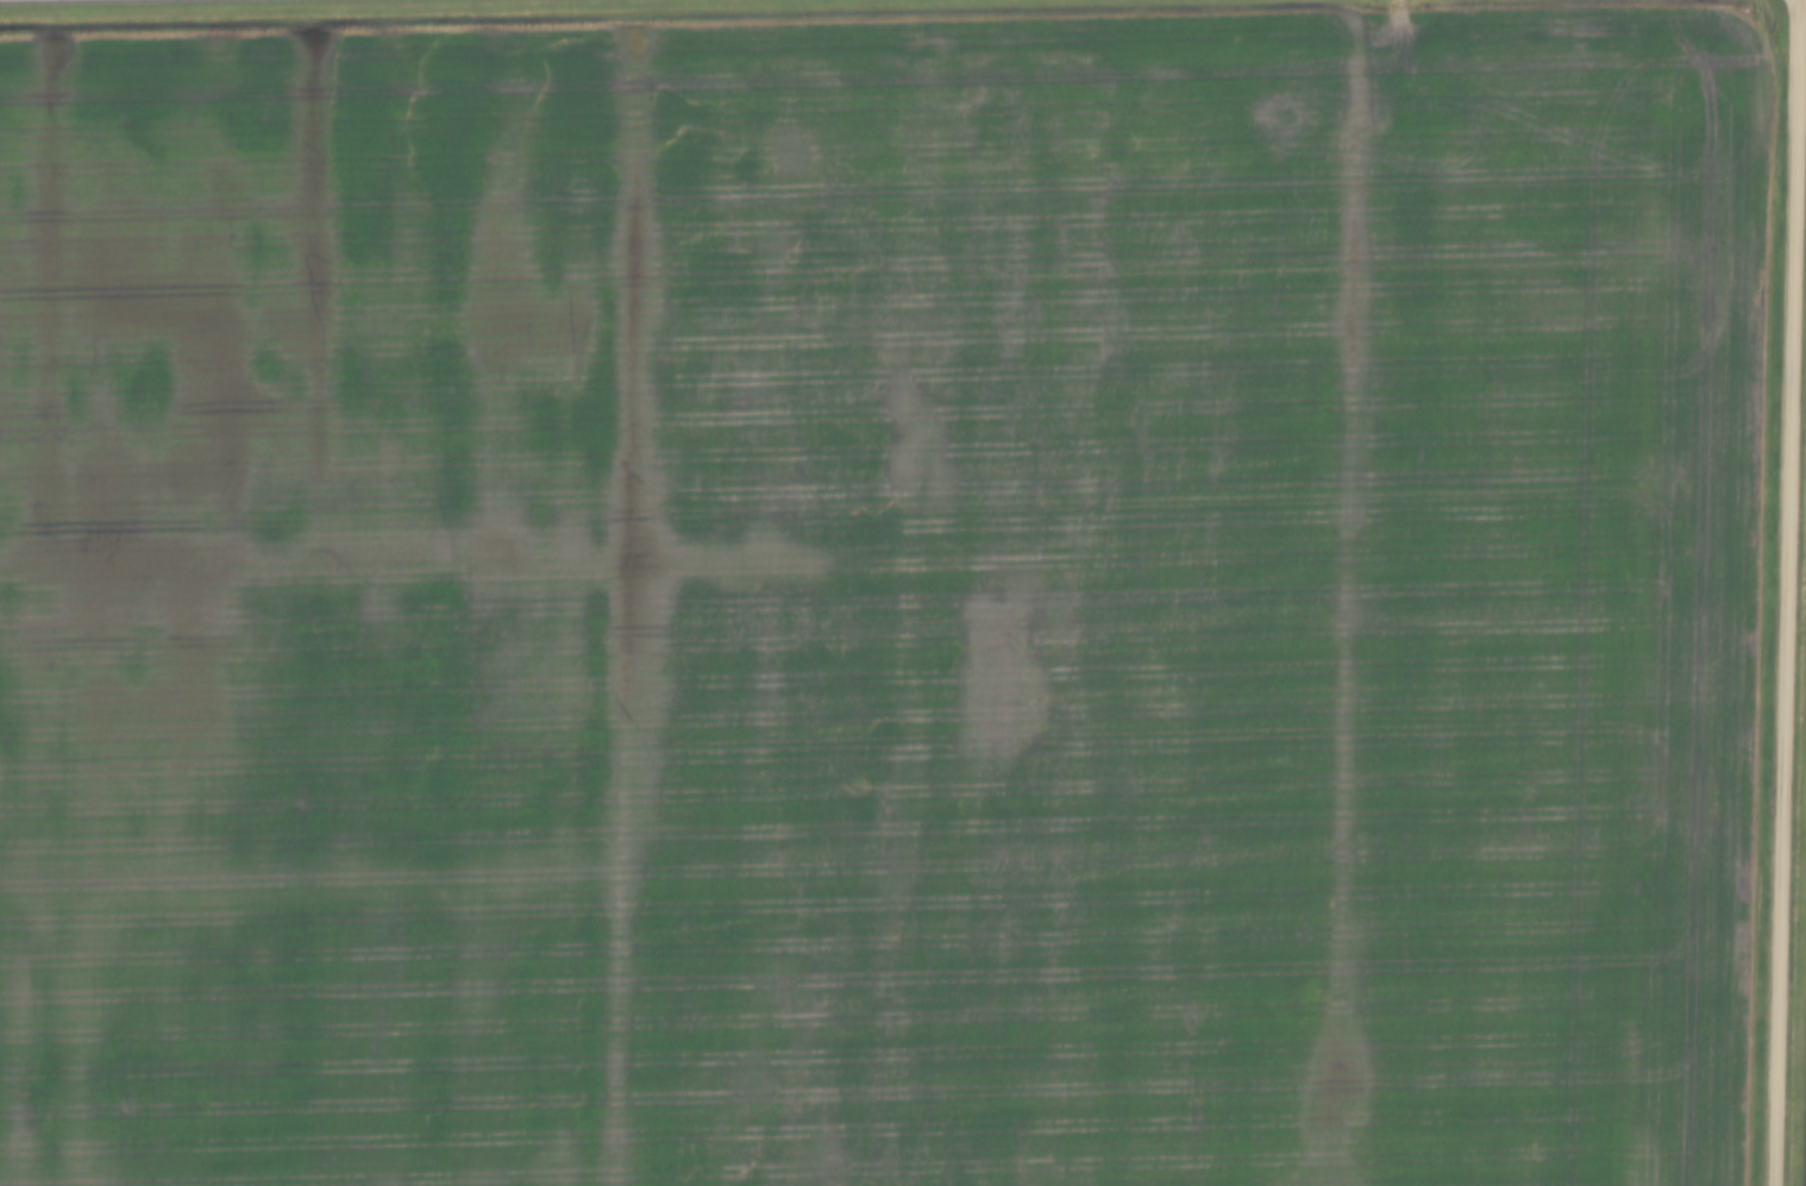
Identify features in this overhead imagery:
road: (1792, 592)

